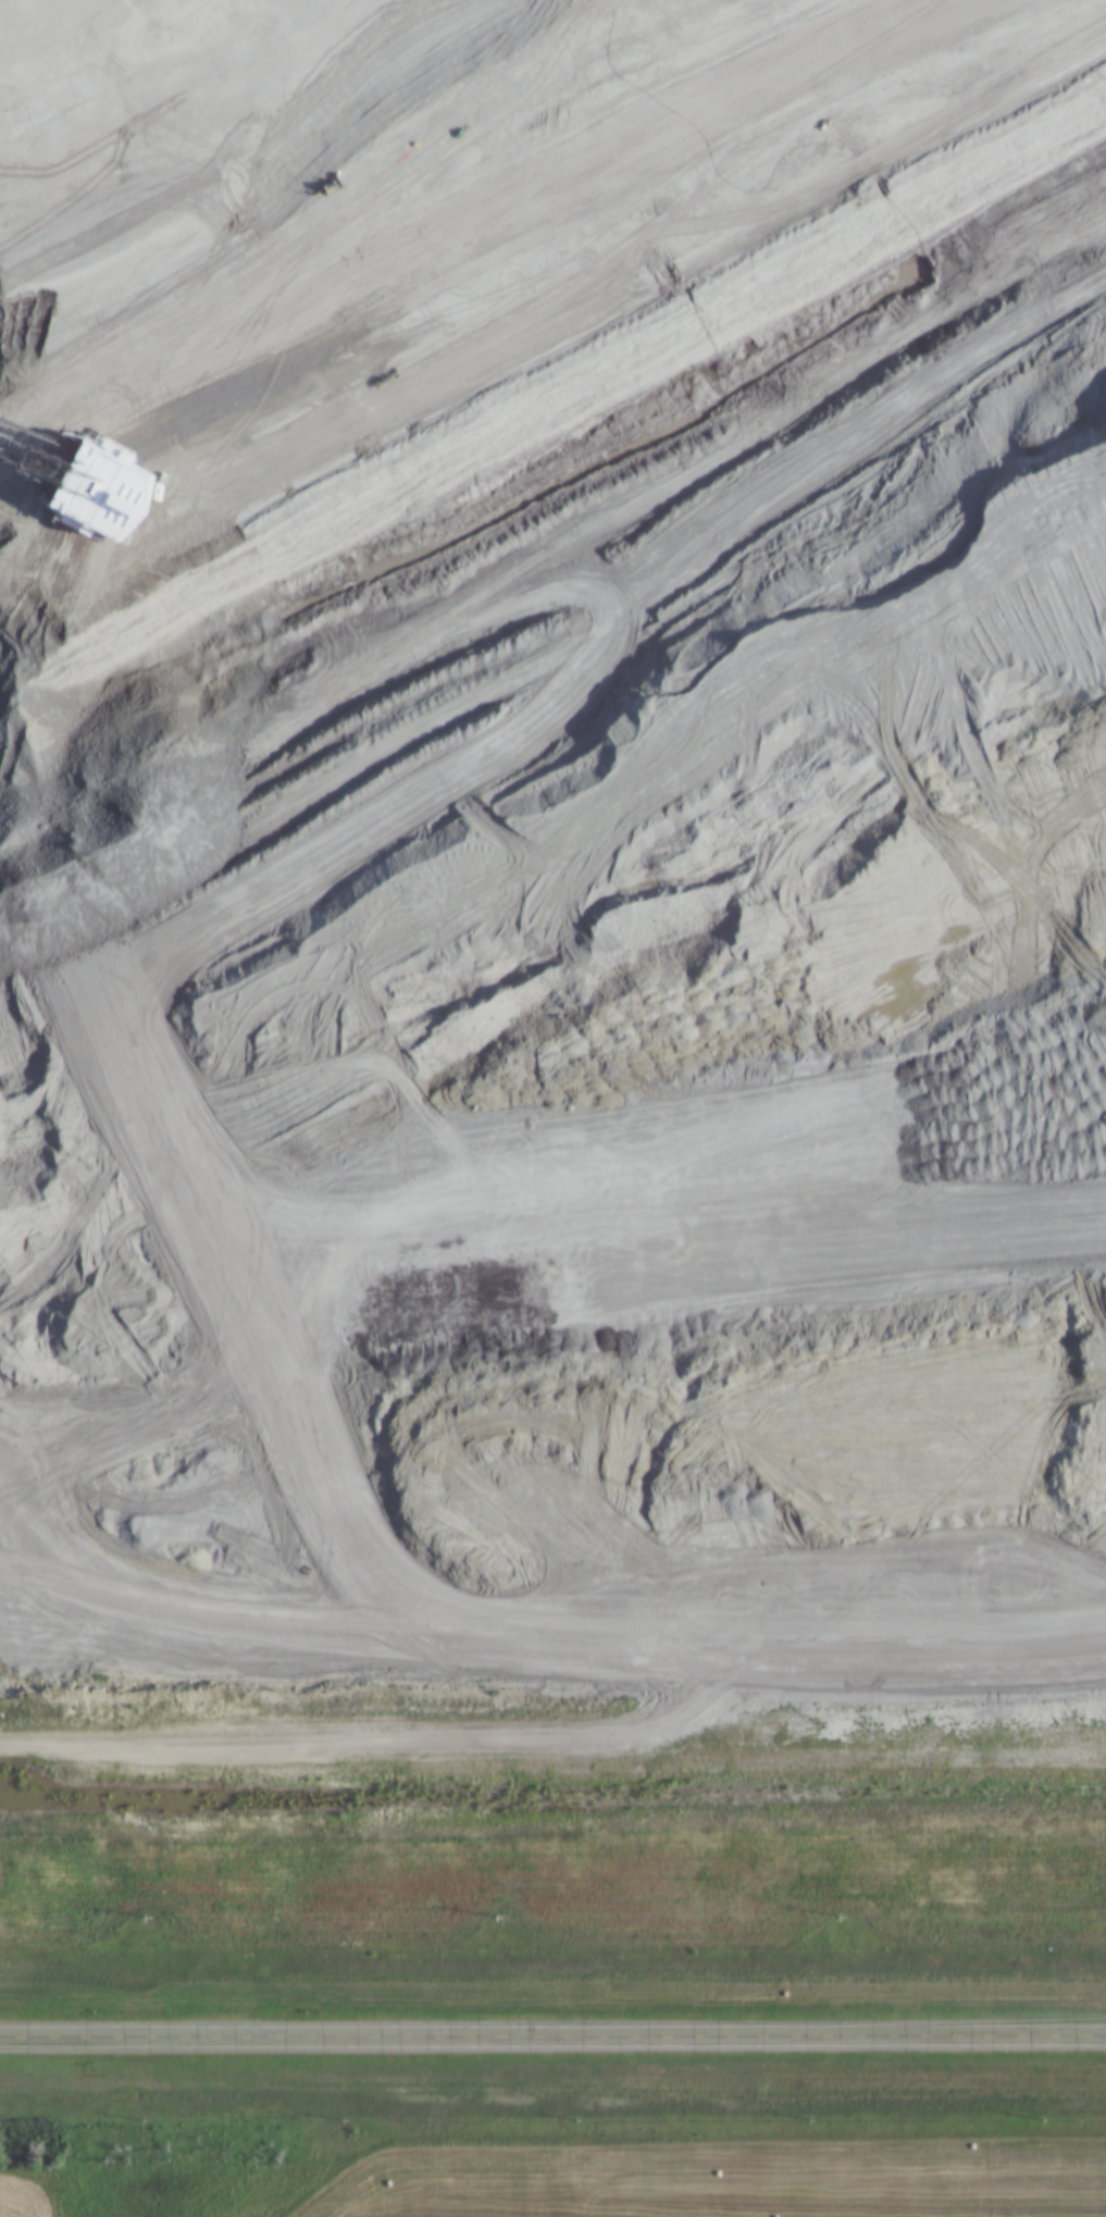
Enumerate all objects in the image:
road: (552, 2034)
quarry: (767, 2207)

